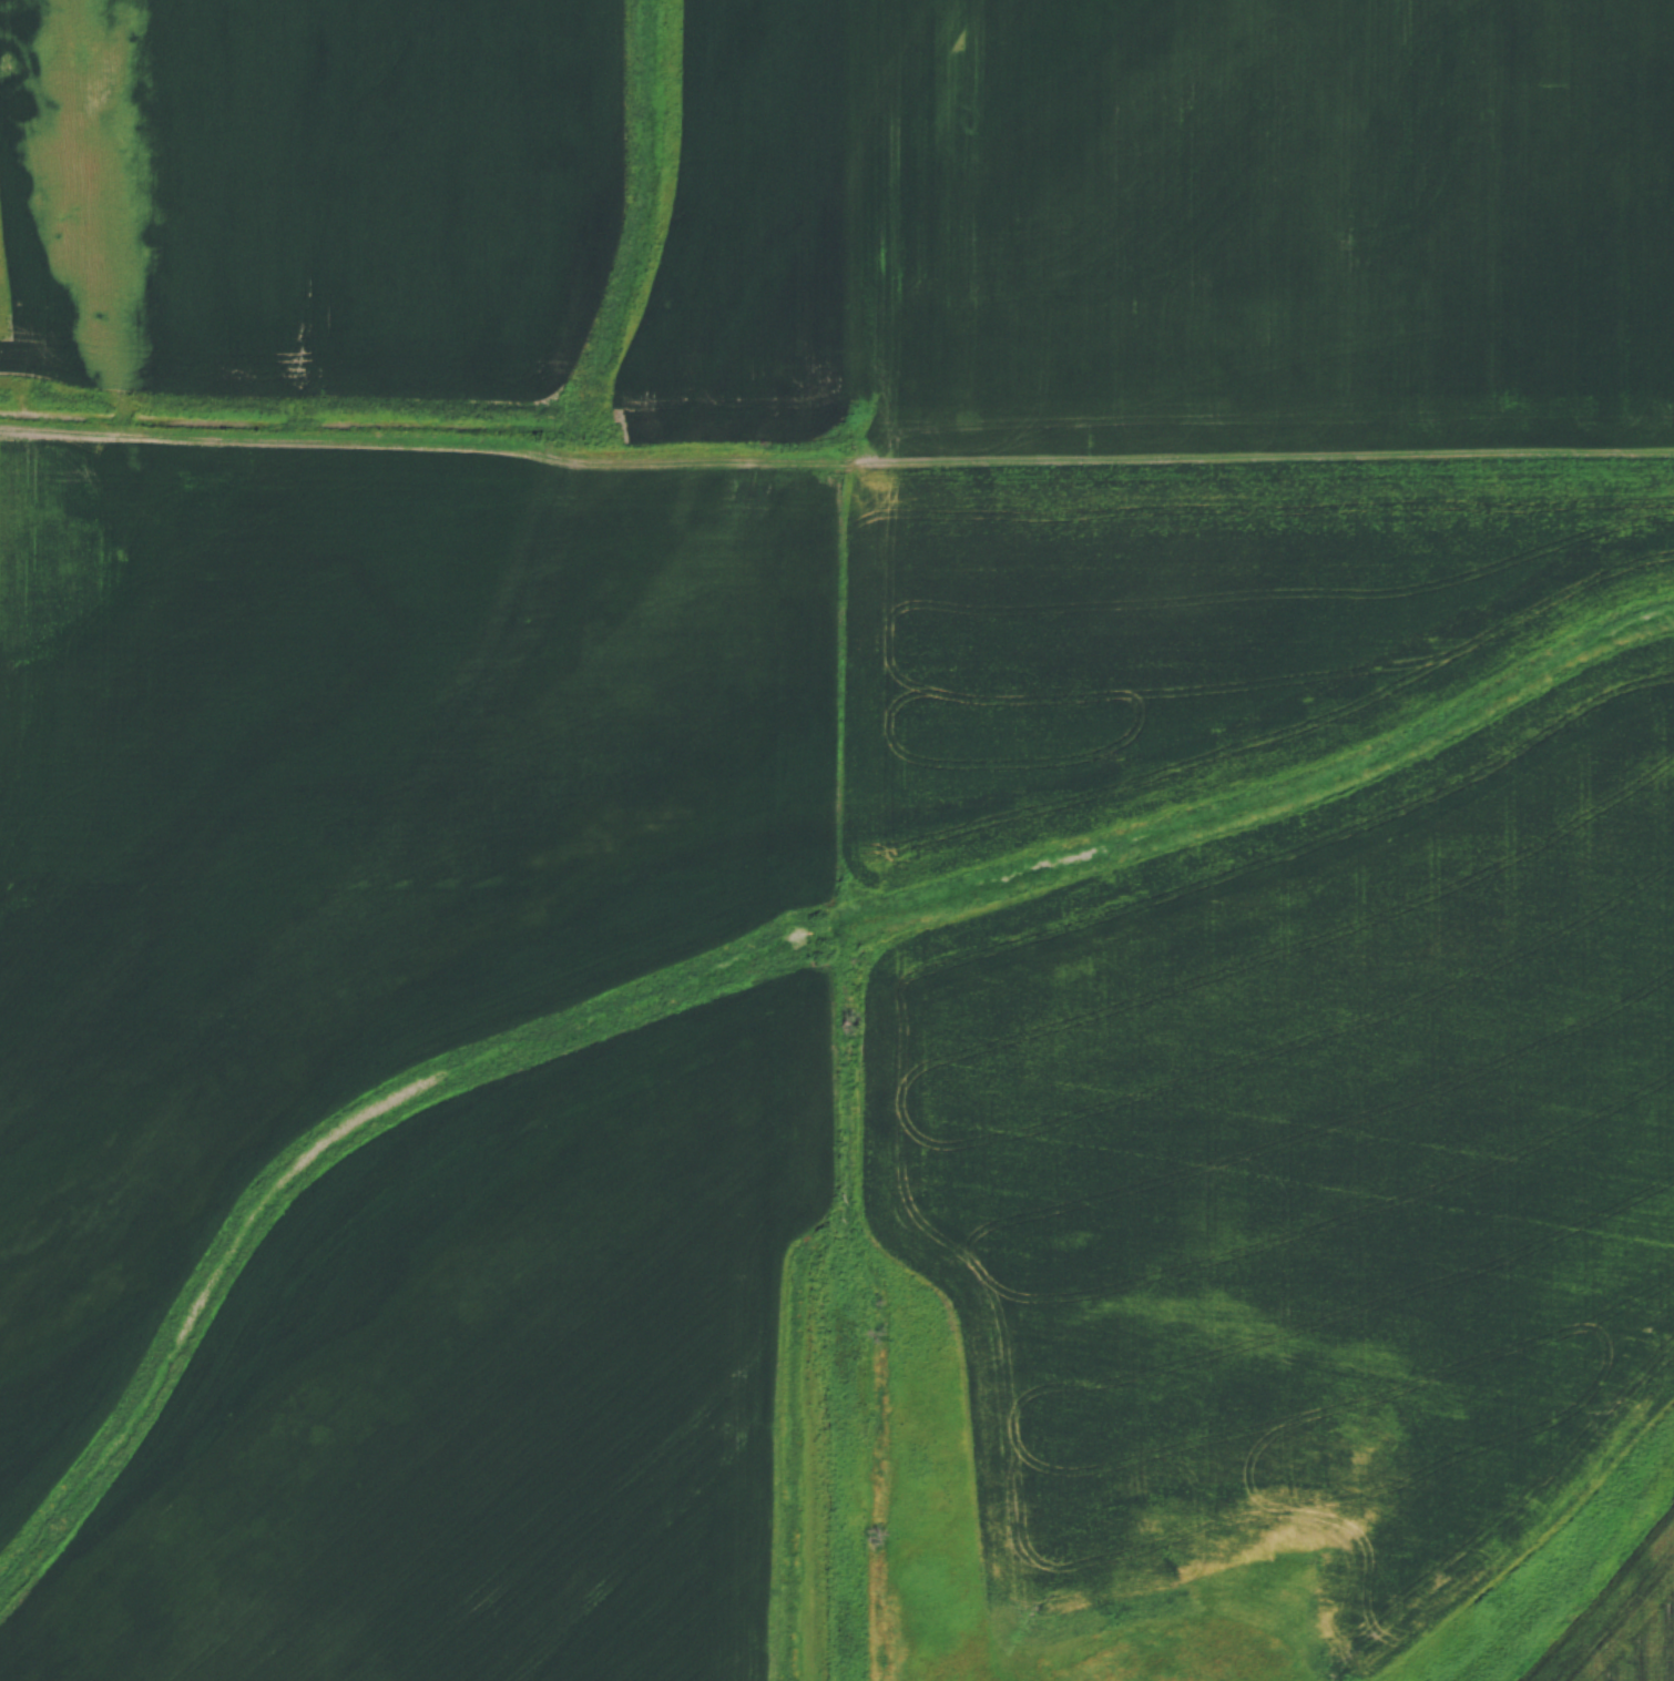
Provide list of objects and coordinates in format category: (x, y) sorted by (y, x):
road: (820, 937)

